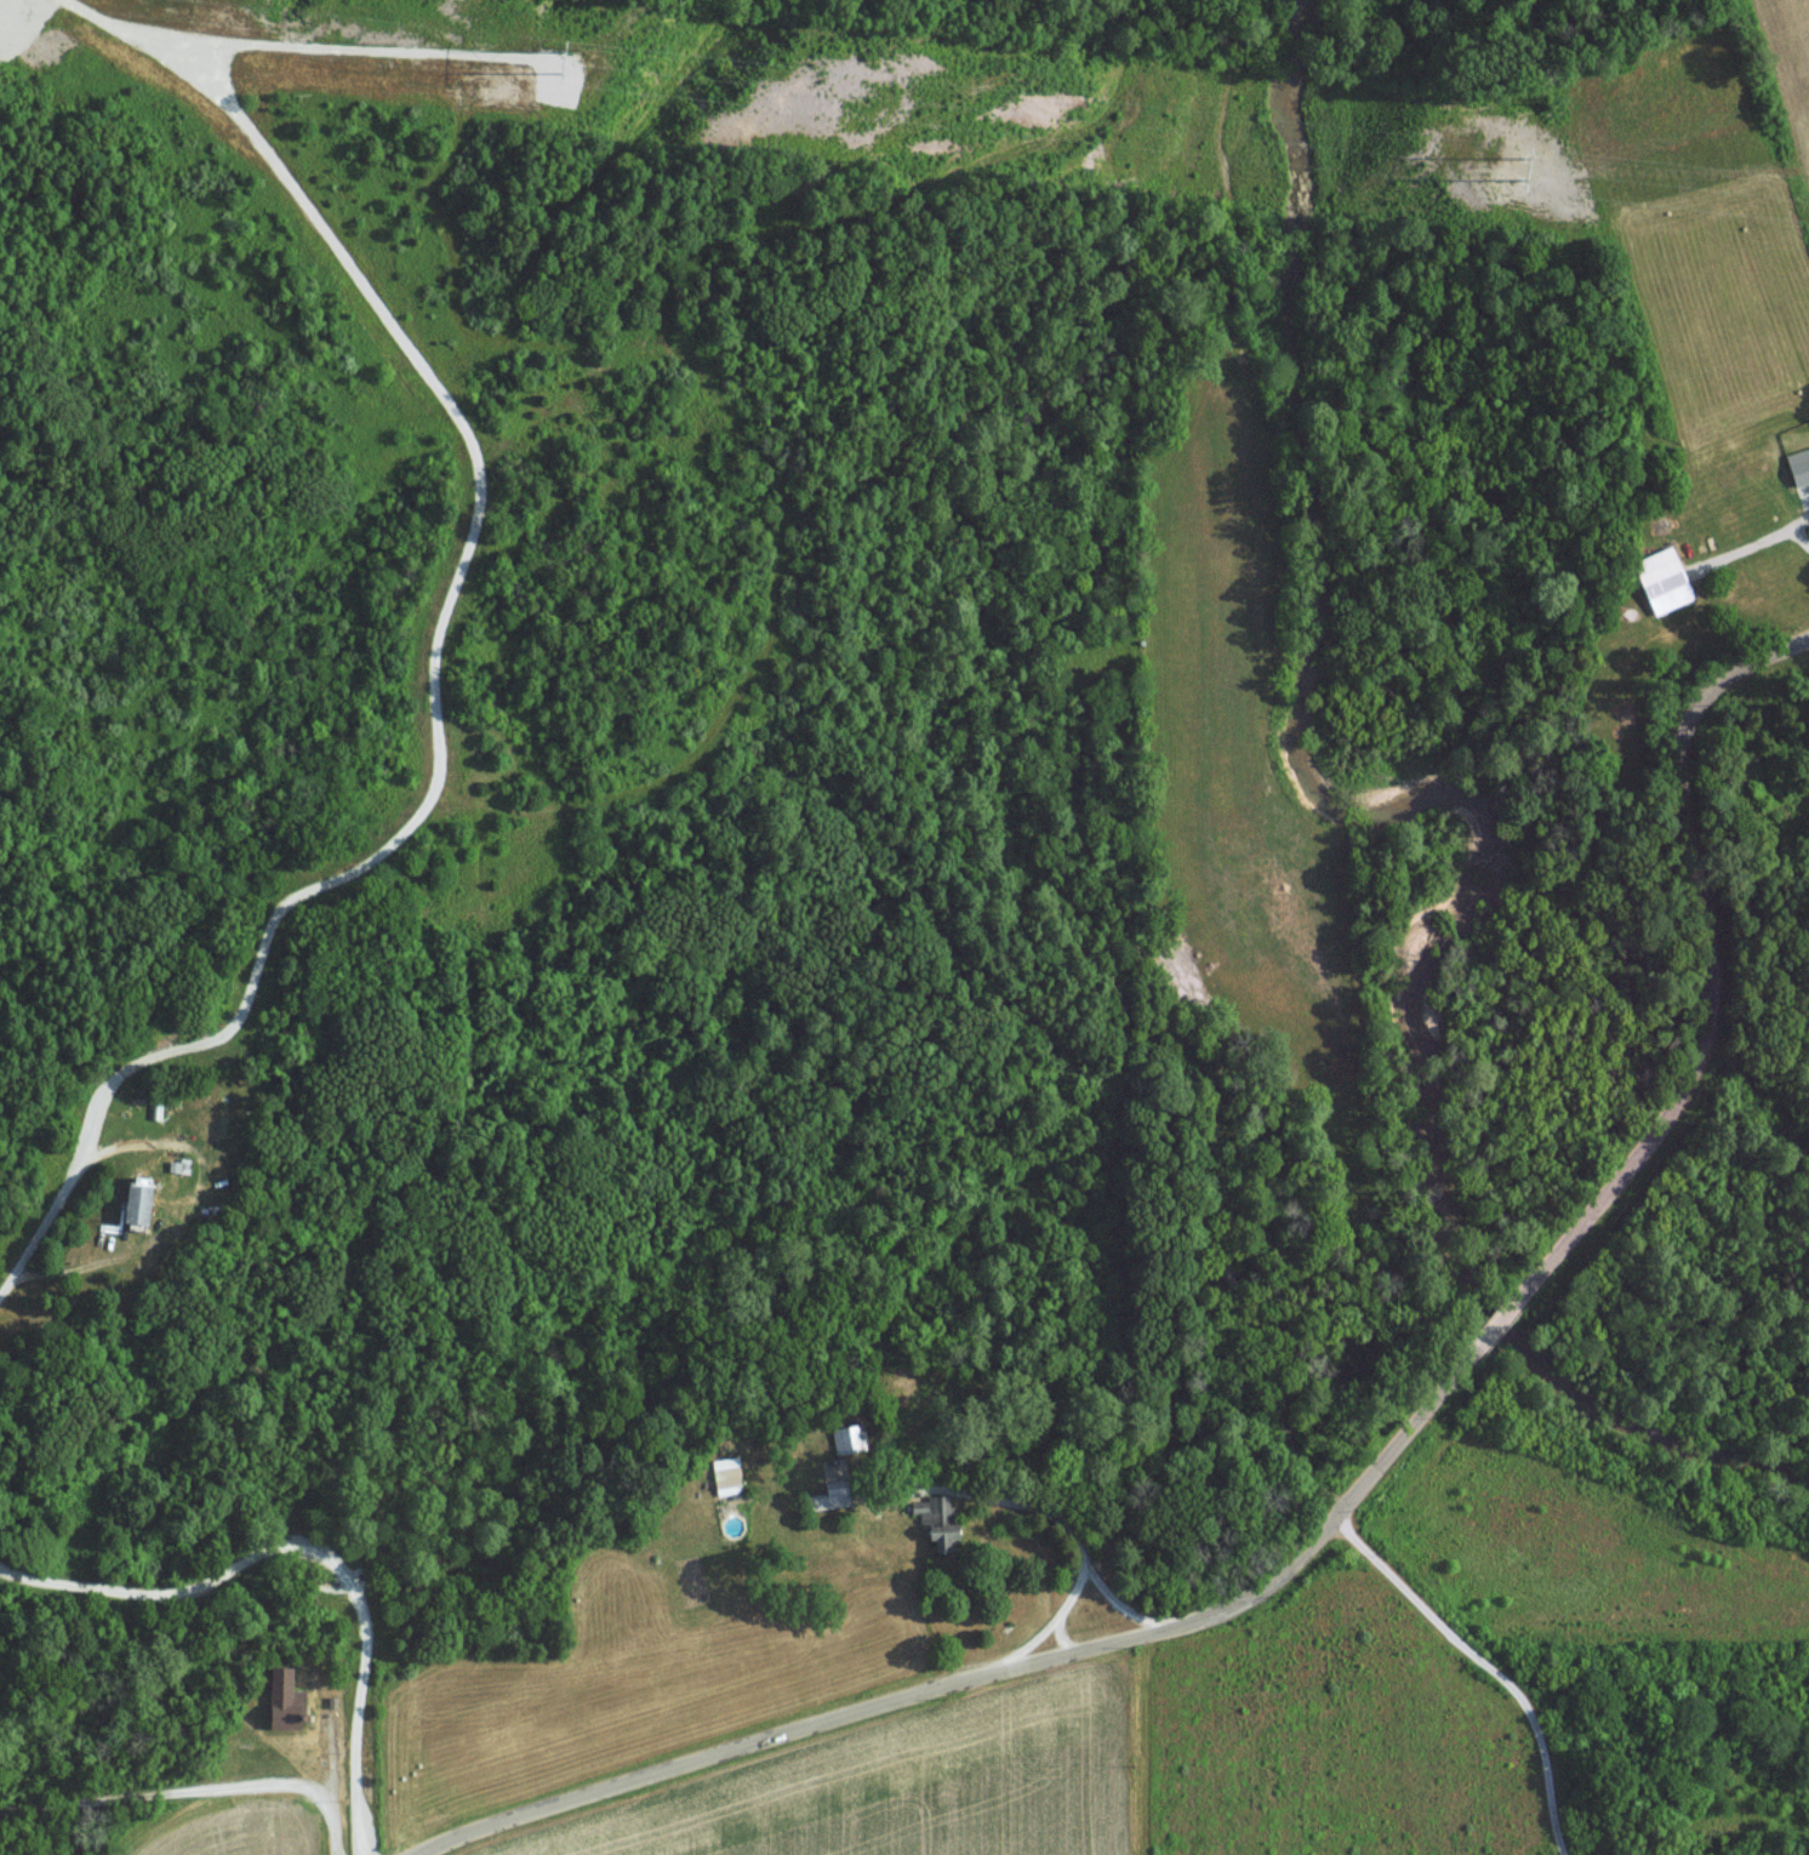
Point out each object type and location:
power tower: (1522, 166)
road: (1759, 541)
building: (130, 1203)
road: (46, 1220)
building: (846, 1439)
building: (725, 1474)
road: (1363, 1485)
road: (1061, 1532)
road: (313, 1548)
road: (1075, 1592)
road: (1048, 1627)
building: (287, 1700)
road: (272, 1853)

